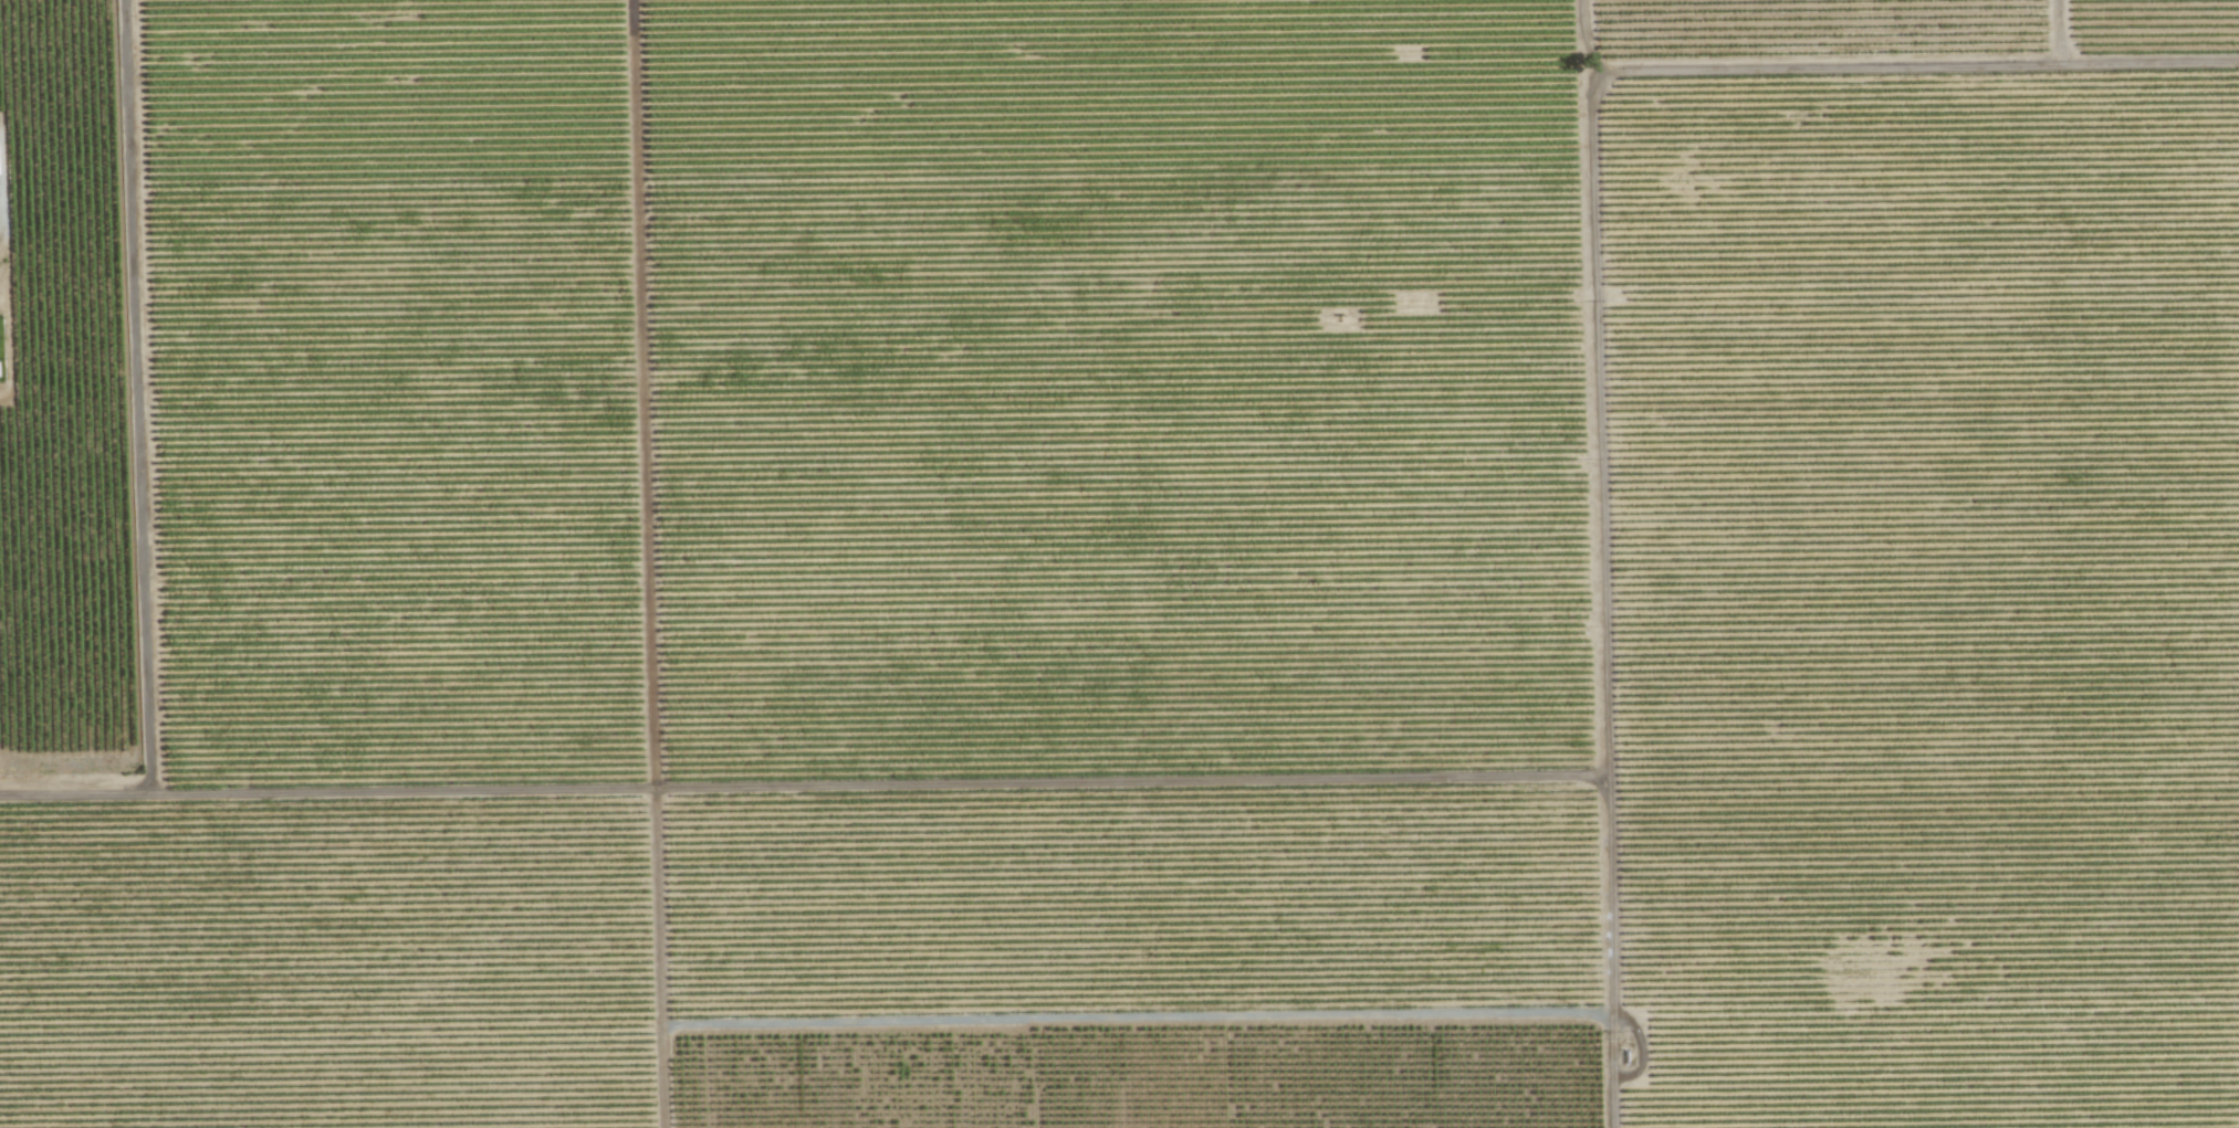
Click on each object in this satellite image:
road: (2061, 23)

